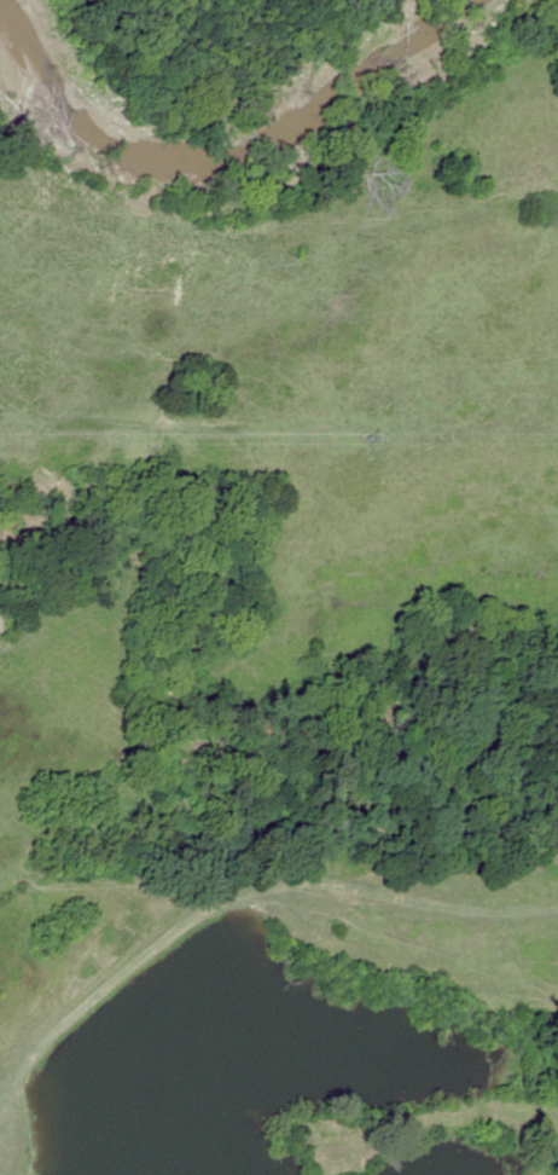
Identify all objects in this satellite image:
river: (226, 133)
power tower: (370, 439)

